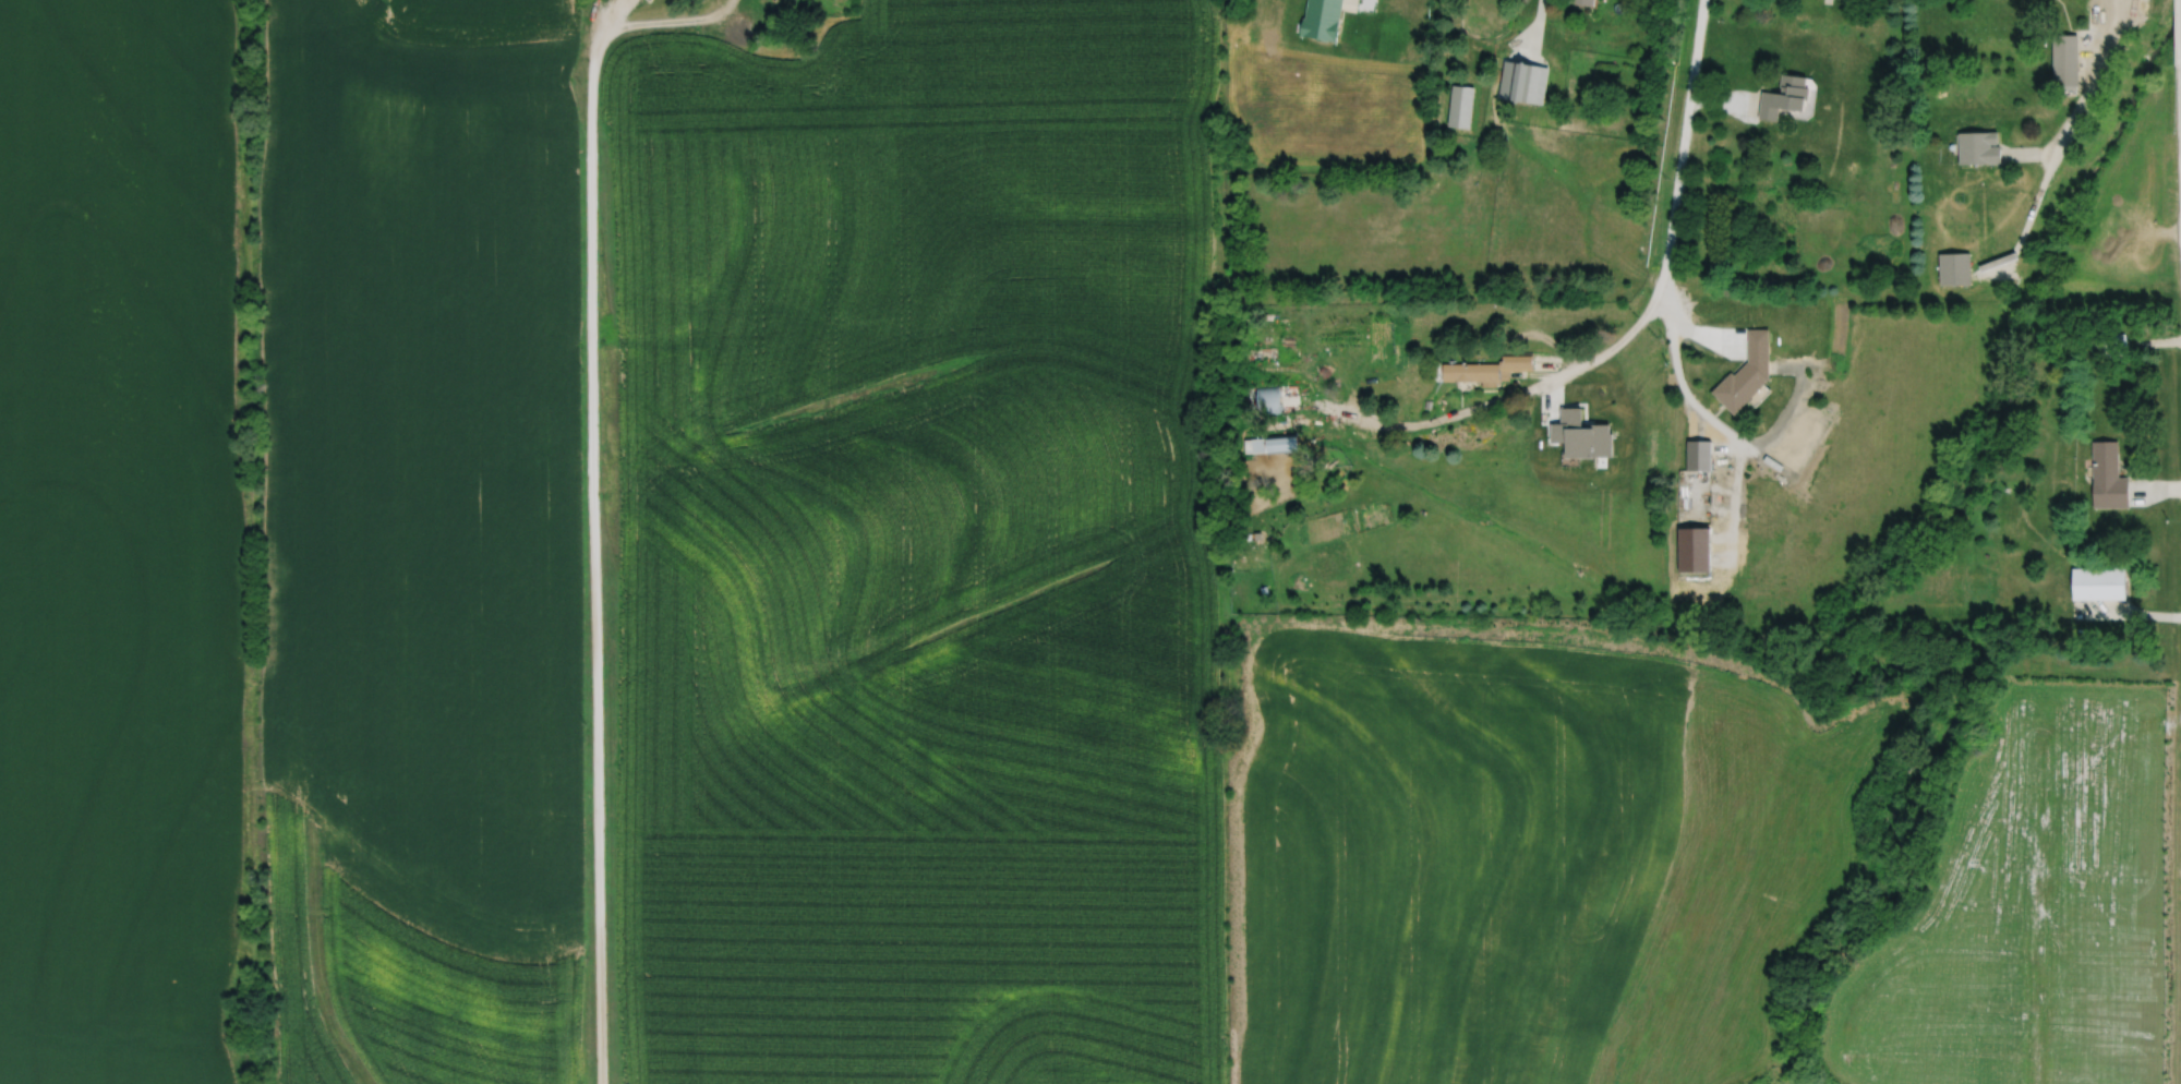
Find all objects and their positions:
building: (1584, 1)
road: (1365, 4)
road: (616, 14)
building: (1321, 19)
road: (1537, 28)
building: (2064, 59)
building: (1523, 81)
building: (1784, 96)
road: (1722, 99)
building: (1461, 106)
road: (2052, 146)
building: (1977, 147)
road: (1683, 150)
road: (2028, 152)
building: (1954, 268)
road: (1697, 330)
road: (2156, 340)
building: (2108, 342)
road: (1610, 347)
building: (1486, 368)
building: (1748, 373)
building: (1268, 398)
building: (1427, 404)
road: (1419, 422)
road: (1726, 432)
building: (1582, 436)
building: (1274, 443)
building: (1698, 454)
building: (2107, 473)
road: (2156, 487)
road: (592, 491)
building: (1256, 533)
building: (2097, 581)
building: (1263, 588)
crop: (766, 595)
road: (2126, 611)
road: (2032, 828)

